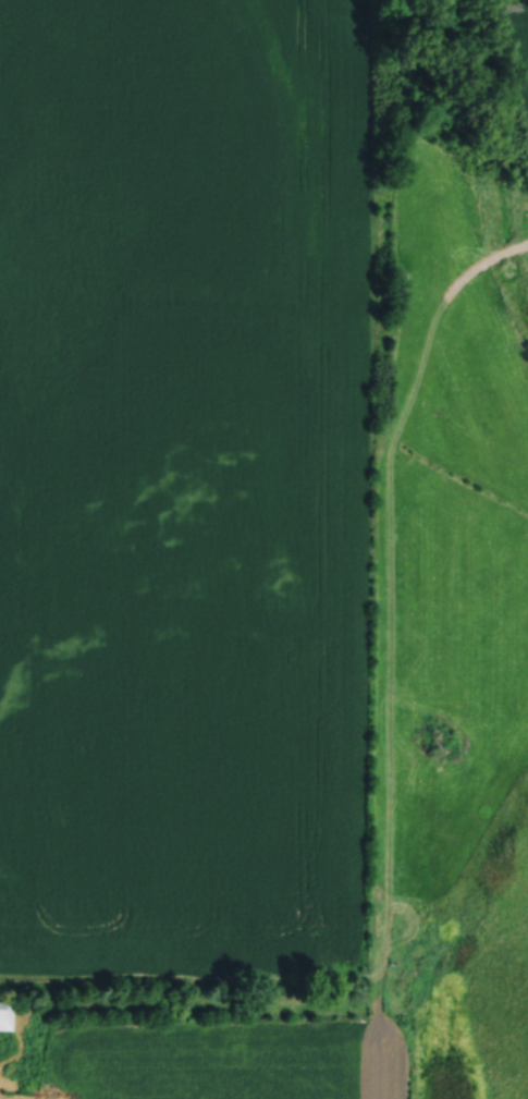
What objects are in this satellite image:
building: (4, 1016)

